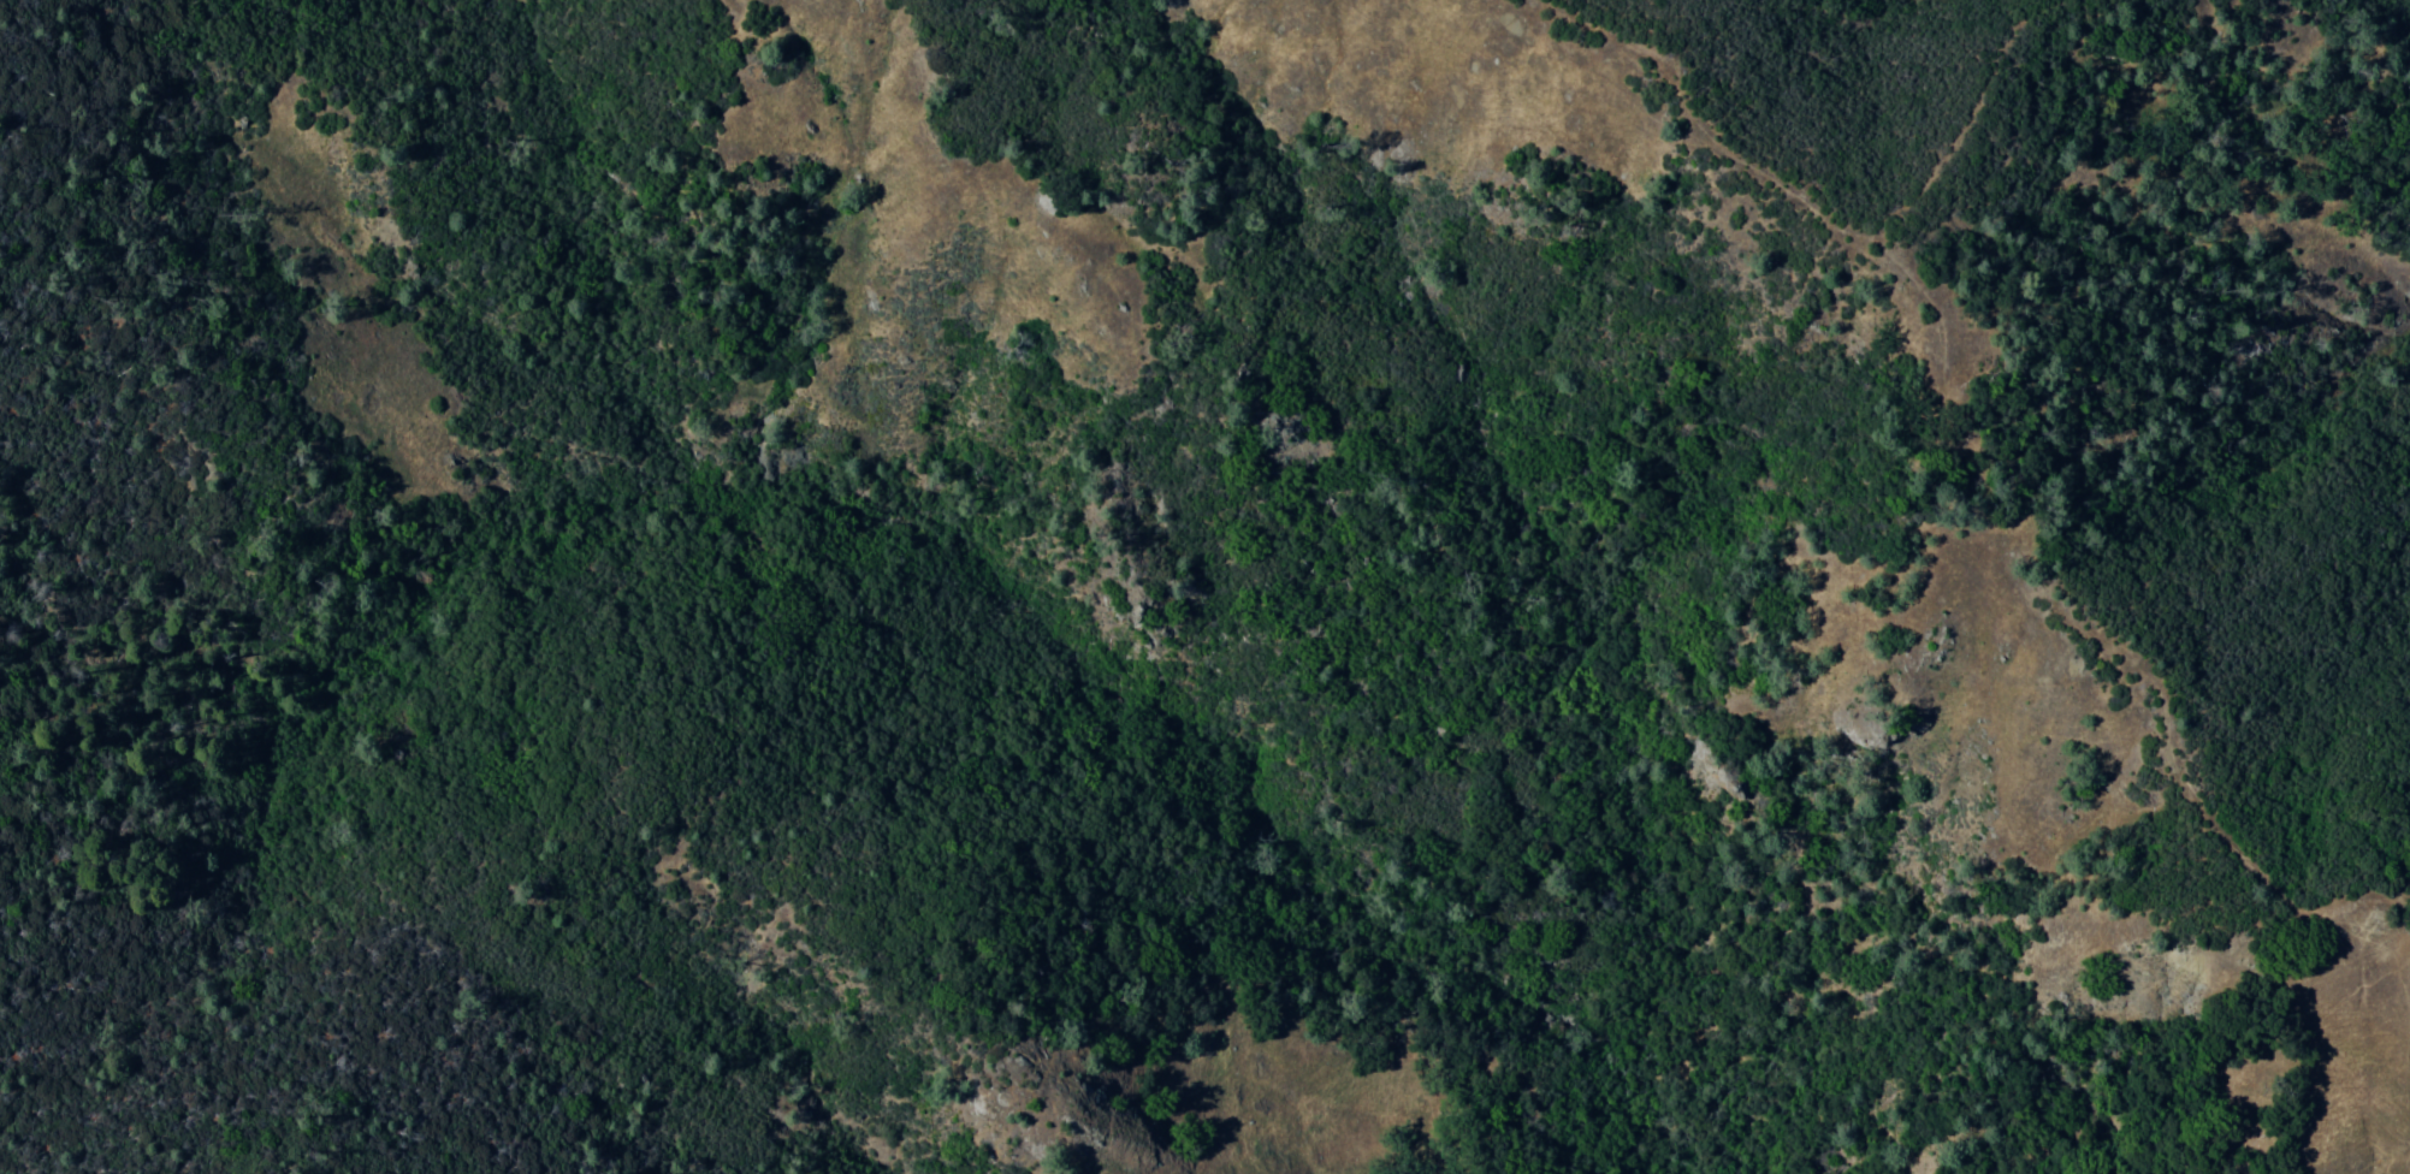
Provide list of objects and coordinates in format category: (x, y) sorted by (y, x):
road: (2005, 452)

